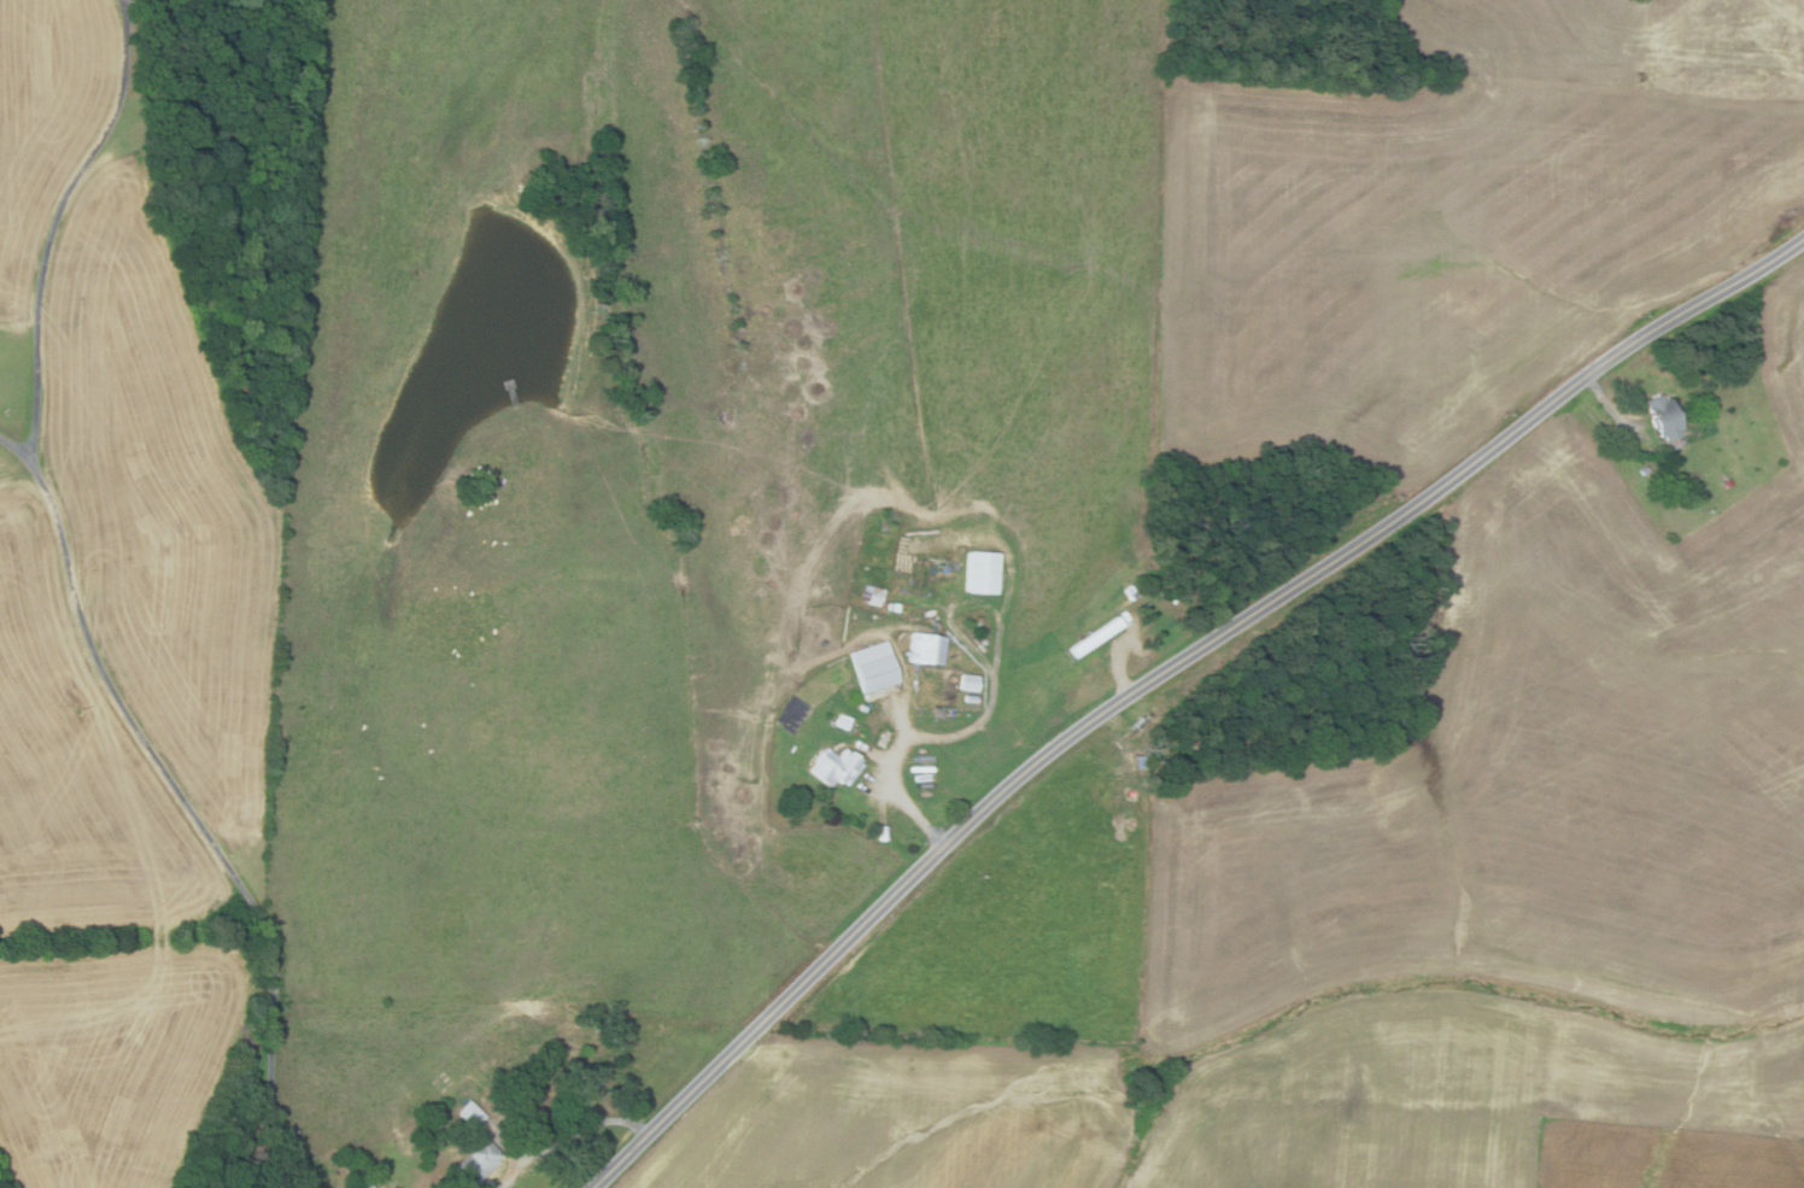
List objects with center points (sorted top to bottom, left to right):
crop: (43, 122)
road: (57, 222)
crop: (1454, 223)
road: (1611, 406)
building: (1664, 416)
building: (1711, 427)
road: (17, 447)
building: (1644, 470)
building: (1728, 481)
crop: (163, 509)
building: (980, 570)
building: (1131, 591)
building: (872, 595)
building: (894, 605)
building: (1096, 636)
building: (825, 642)
building: (926, 648)
building: (873, 666)
road: (1120, 666)
road: (1165, 672)
building: (967, 681)
building: (970, 697)
building: (863, 708)
building: (844, 721)
building: (834, 766)
crop: (77, 769)
road: (907, 808)
road: (198, 819)
building: (883, 832)
crop: (1421, 899)
crop: (113, 1060)
building: (470, 1113)
road: (569, 1136)
crop: (1664, 1158)
building: (478, 1159)
building: (361, 1181)

